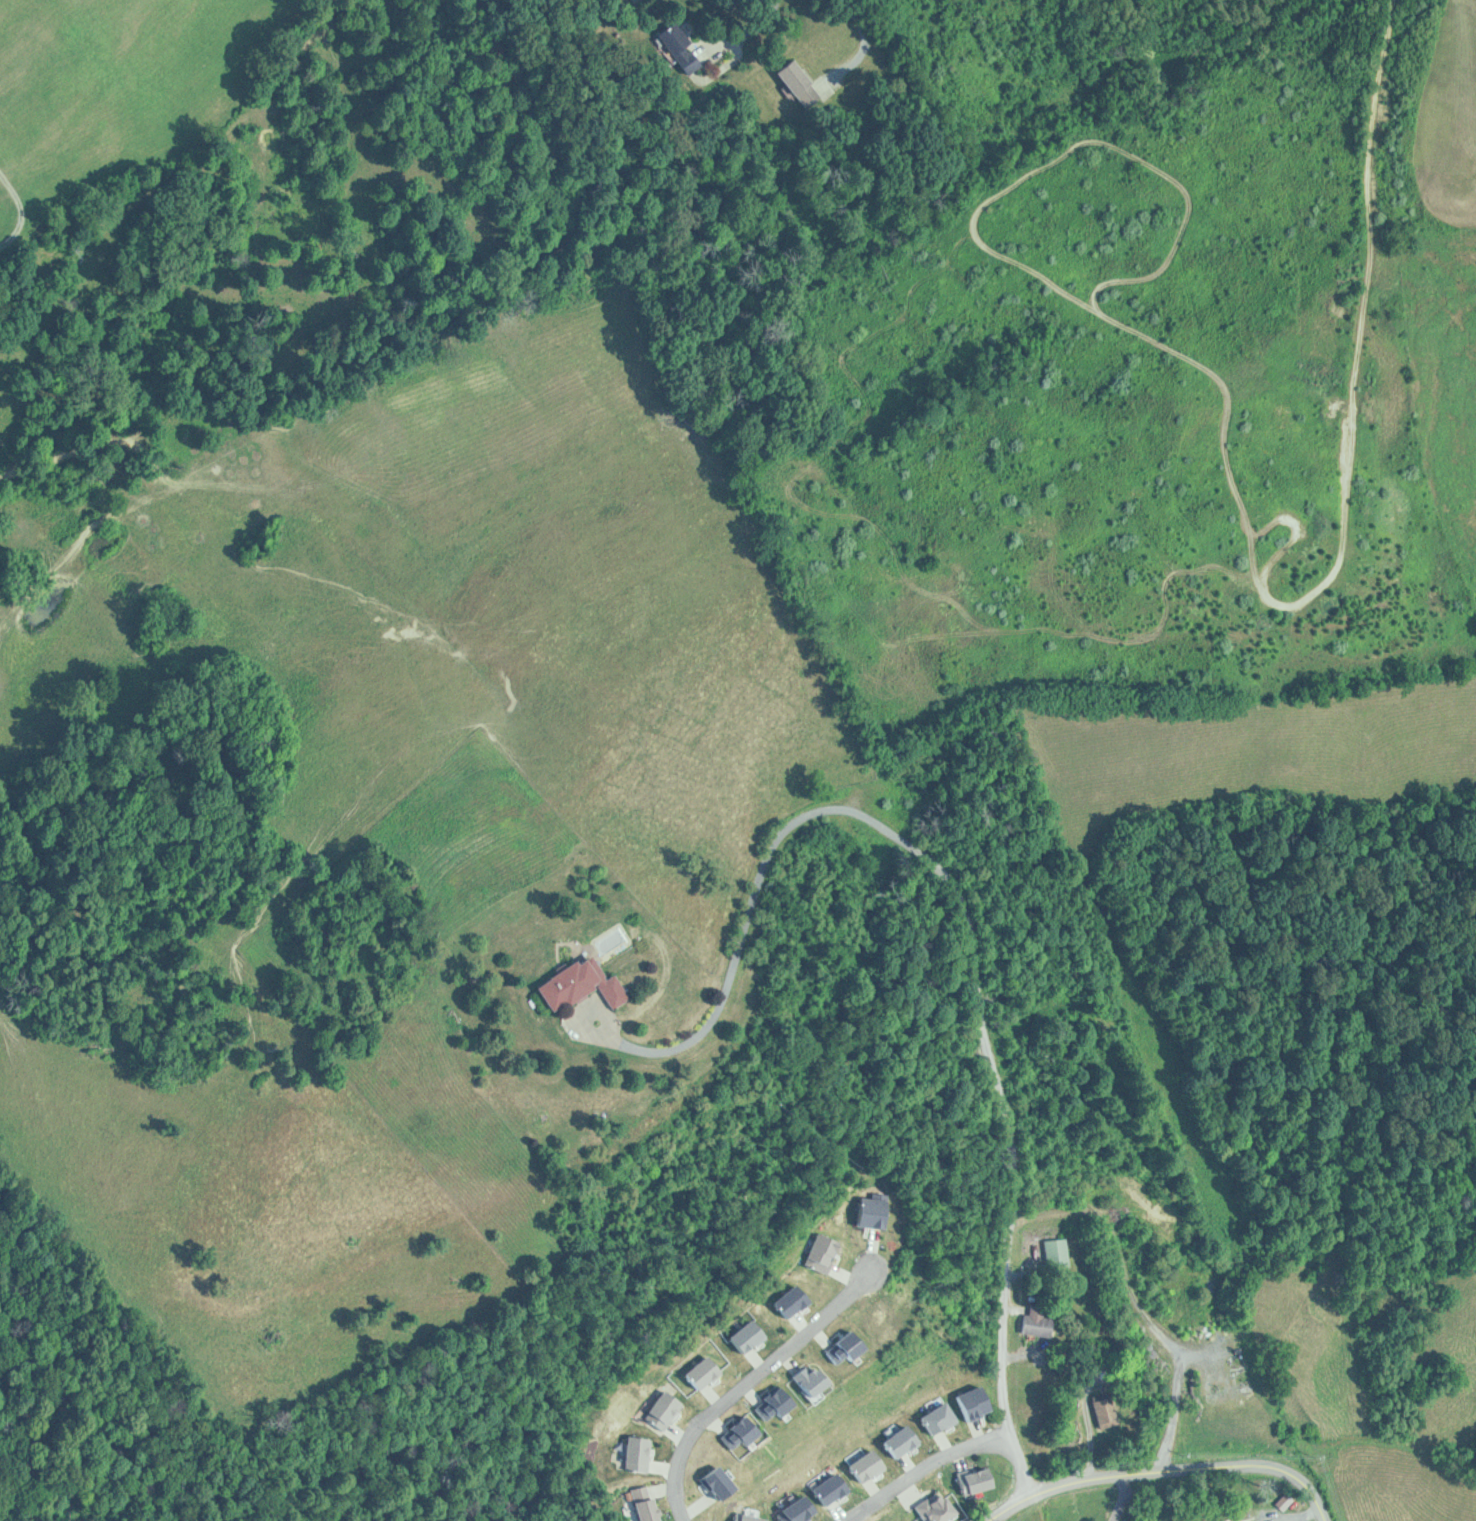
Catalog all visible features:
road: (860, 18)
building: (684, 47)
road: (855, 54)
road: (808, 812)
building: (573, 986)
building: (864, 1212)
building: (1060, 1252)
building: (817, 1253)
road: (865, 1254)
road: (841, 1274)
building: (787, 1302)
road: (1001, 1307)
road: (799, 1324)
building: (1029, 1324)
road: (816, 1333)
building: (743, 1336)
building: (835, 1347)
road: (1015, 1353)
road: (757, 1361)
building: (701, 1372)
building: (805, 1383)
road: (744, 1384)
road: (748, 1392)
road: (715, 1397)
building: (968, 1401)
building: (766, 1404)
building: (660, 1410)
building: (933, 1420)
road: (712, 1422)
road: (974, 1429)
road: (677, 1433)
building: (734, 1433)
building: (898, 1441)
road: (945, 1444)
building: (634, 1454)
road: (959, 1458)
road: (664, 1465)
building: (860, 1465)
road: (925, 1465)
road: (908, 1466)
road: (1170, 1469)
building: (968, 1479)
building: (713, 1482)
road: (662, 1488)
building: (827, 1489)
road: (874, 1491)
road: (903, 1494)
building: (637, 1503)
road: (690, 1506)
building: (654, 1509)
building: (932, 1509)
building: (793, 1510)
road: (837, 1512)
building: (742, 1517)
building: (1228, 1520)

